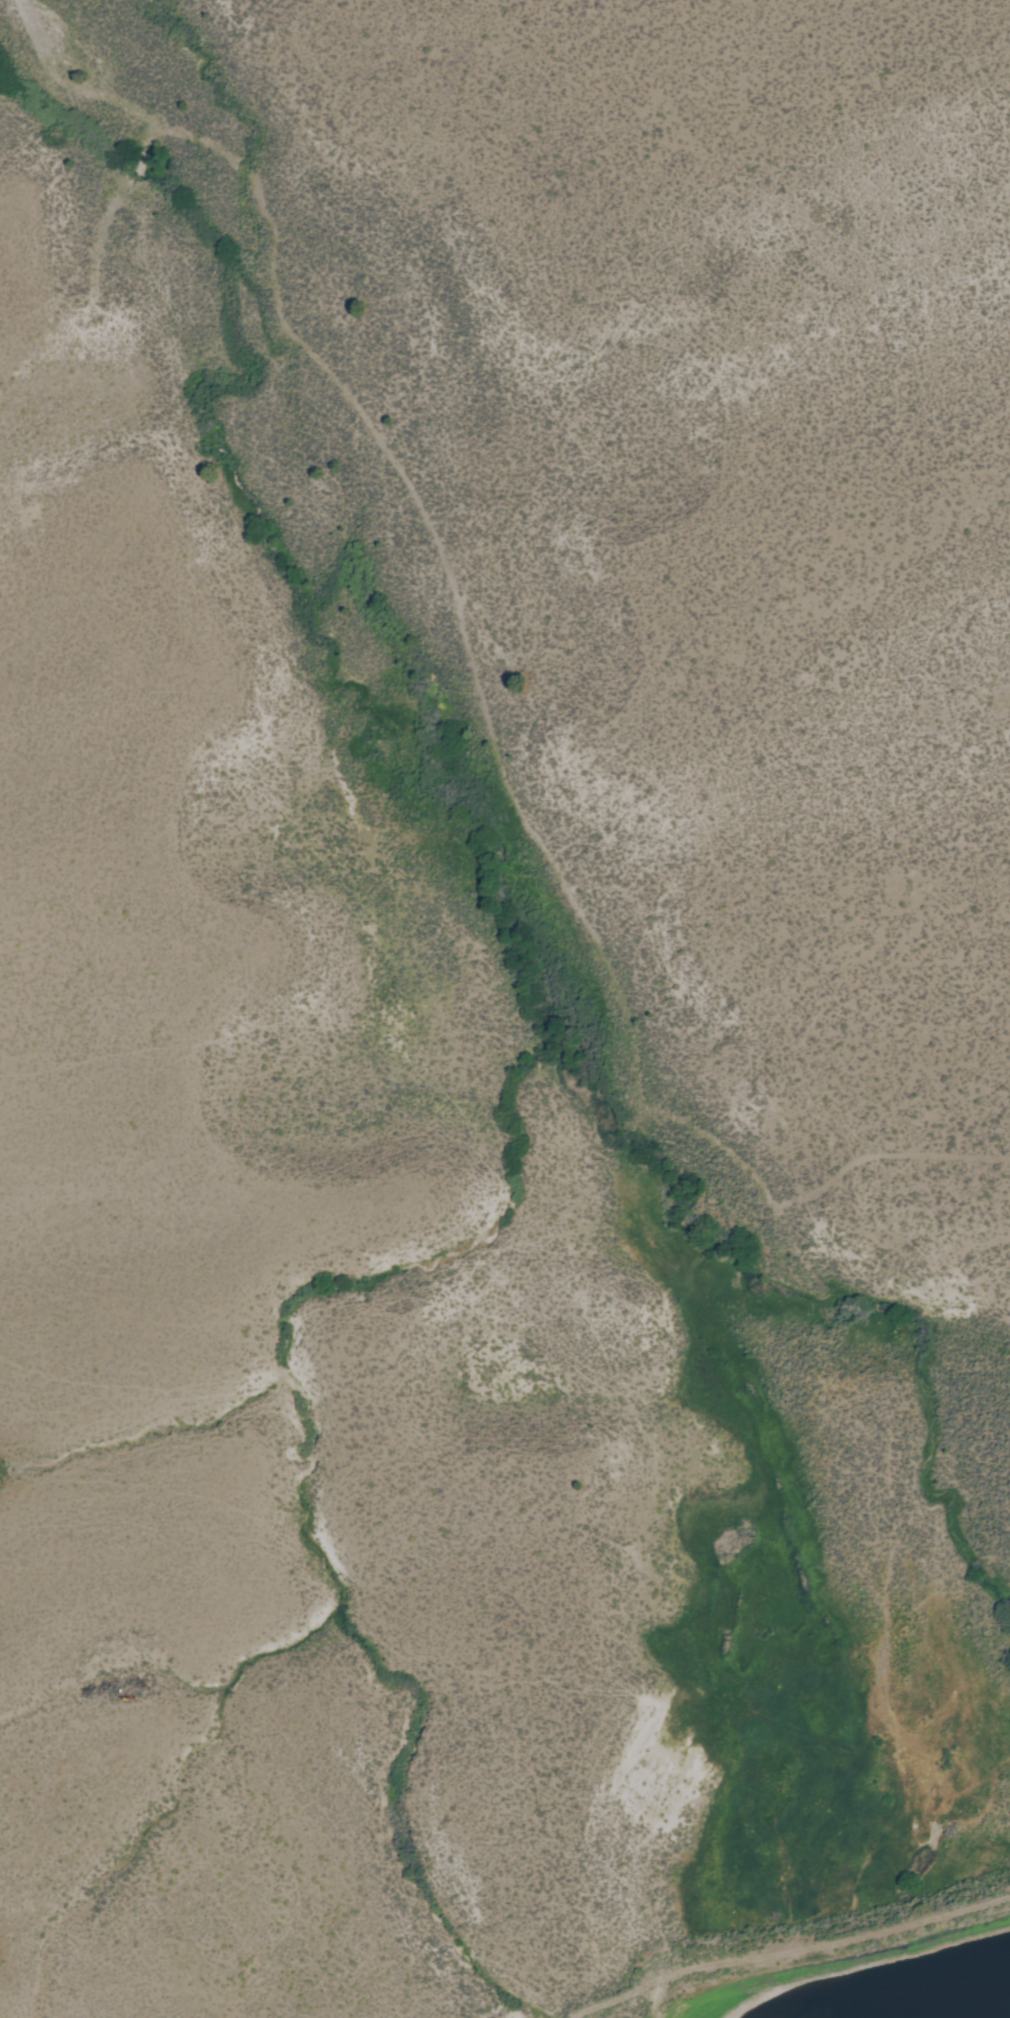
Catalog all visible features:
dam: (811, 1935)

